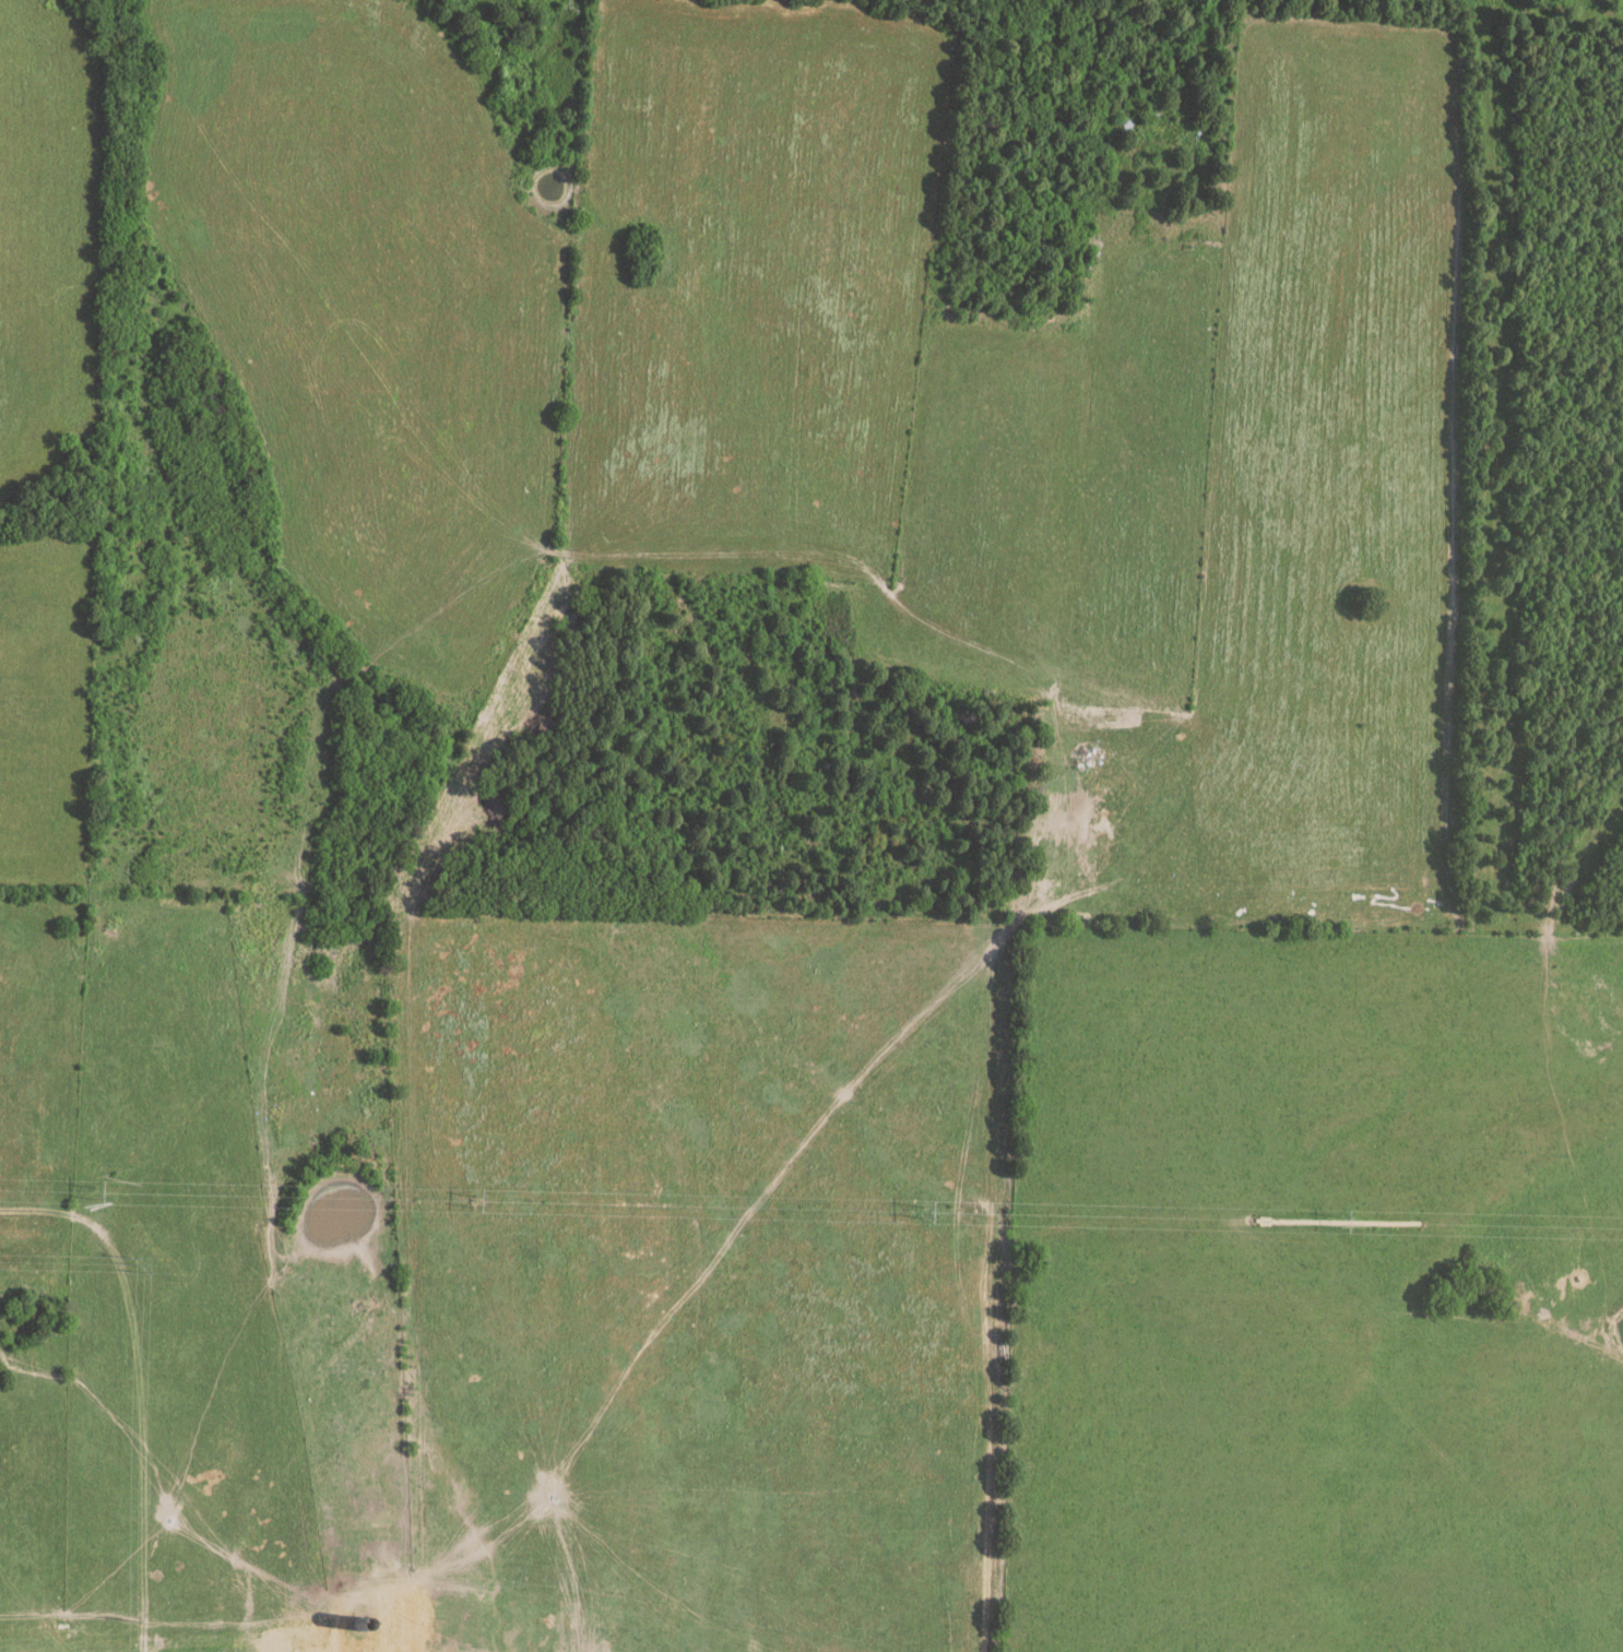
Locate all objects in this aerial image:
power tower: (474, 1200)
power tower: (923, 1211)
power tower: (1336, 1220)
building: (308, 1649)

